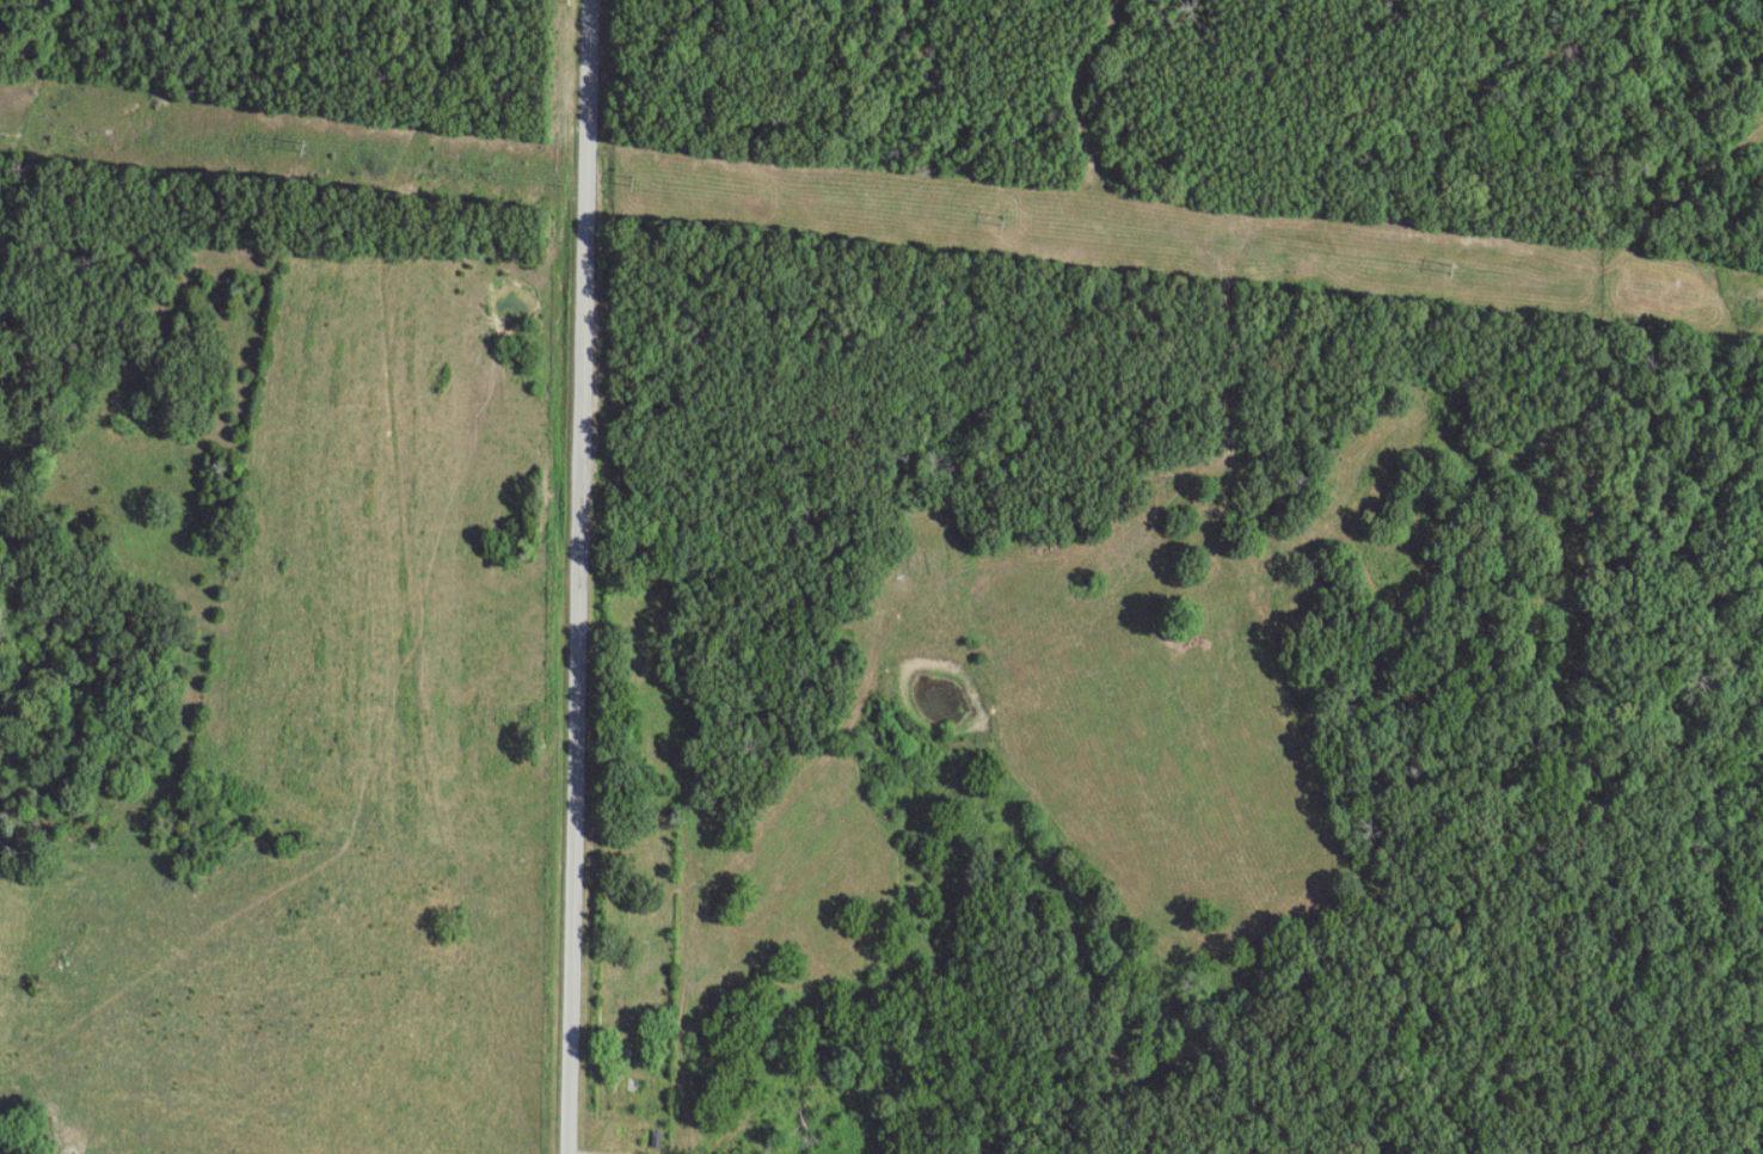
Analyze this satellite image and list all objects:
road: (586, 576)

